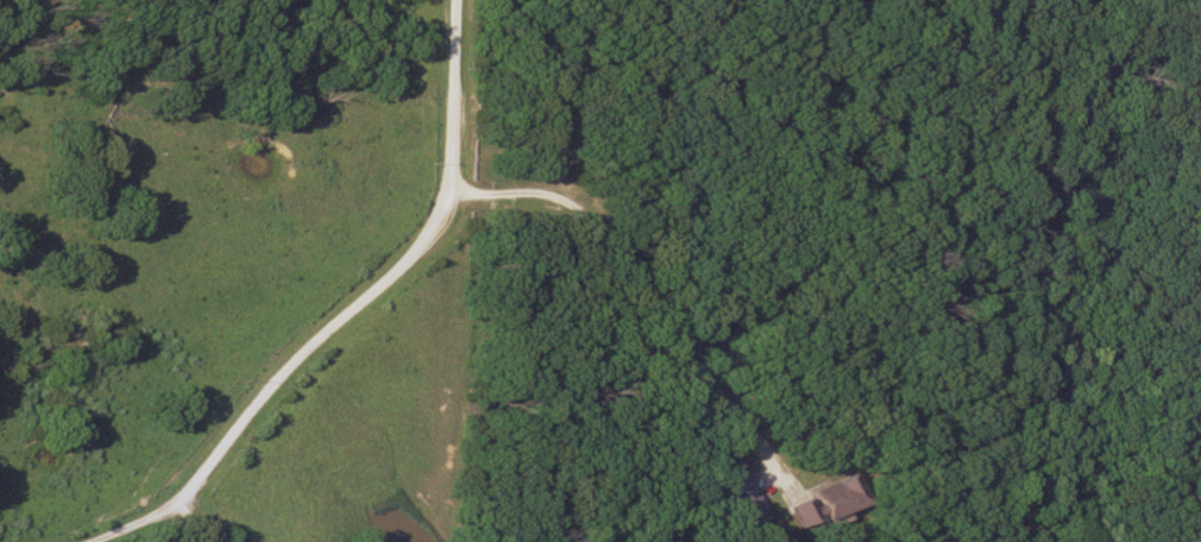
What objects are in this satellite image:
road: (351, 308)
building: (740, 500)
building: (819, 500)
building: (227, 541)

